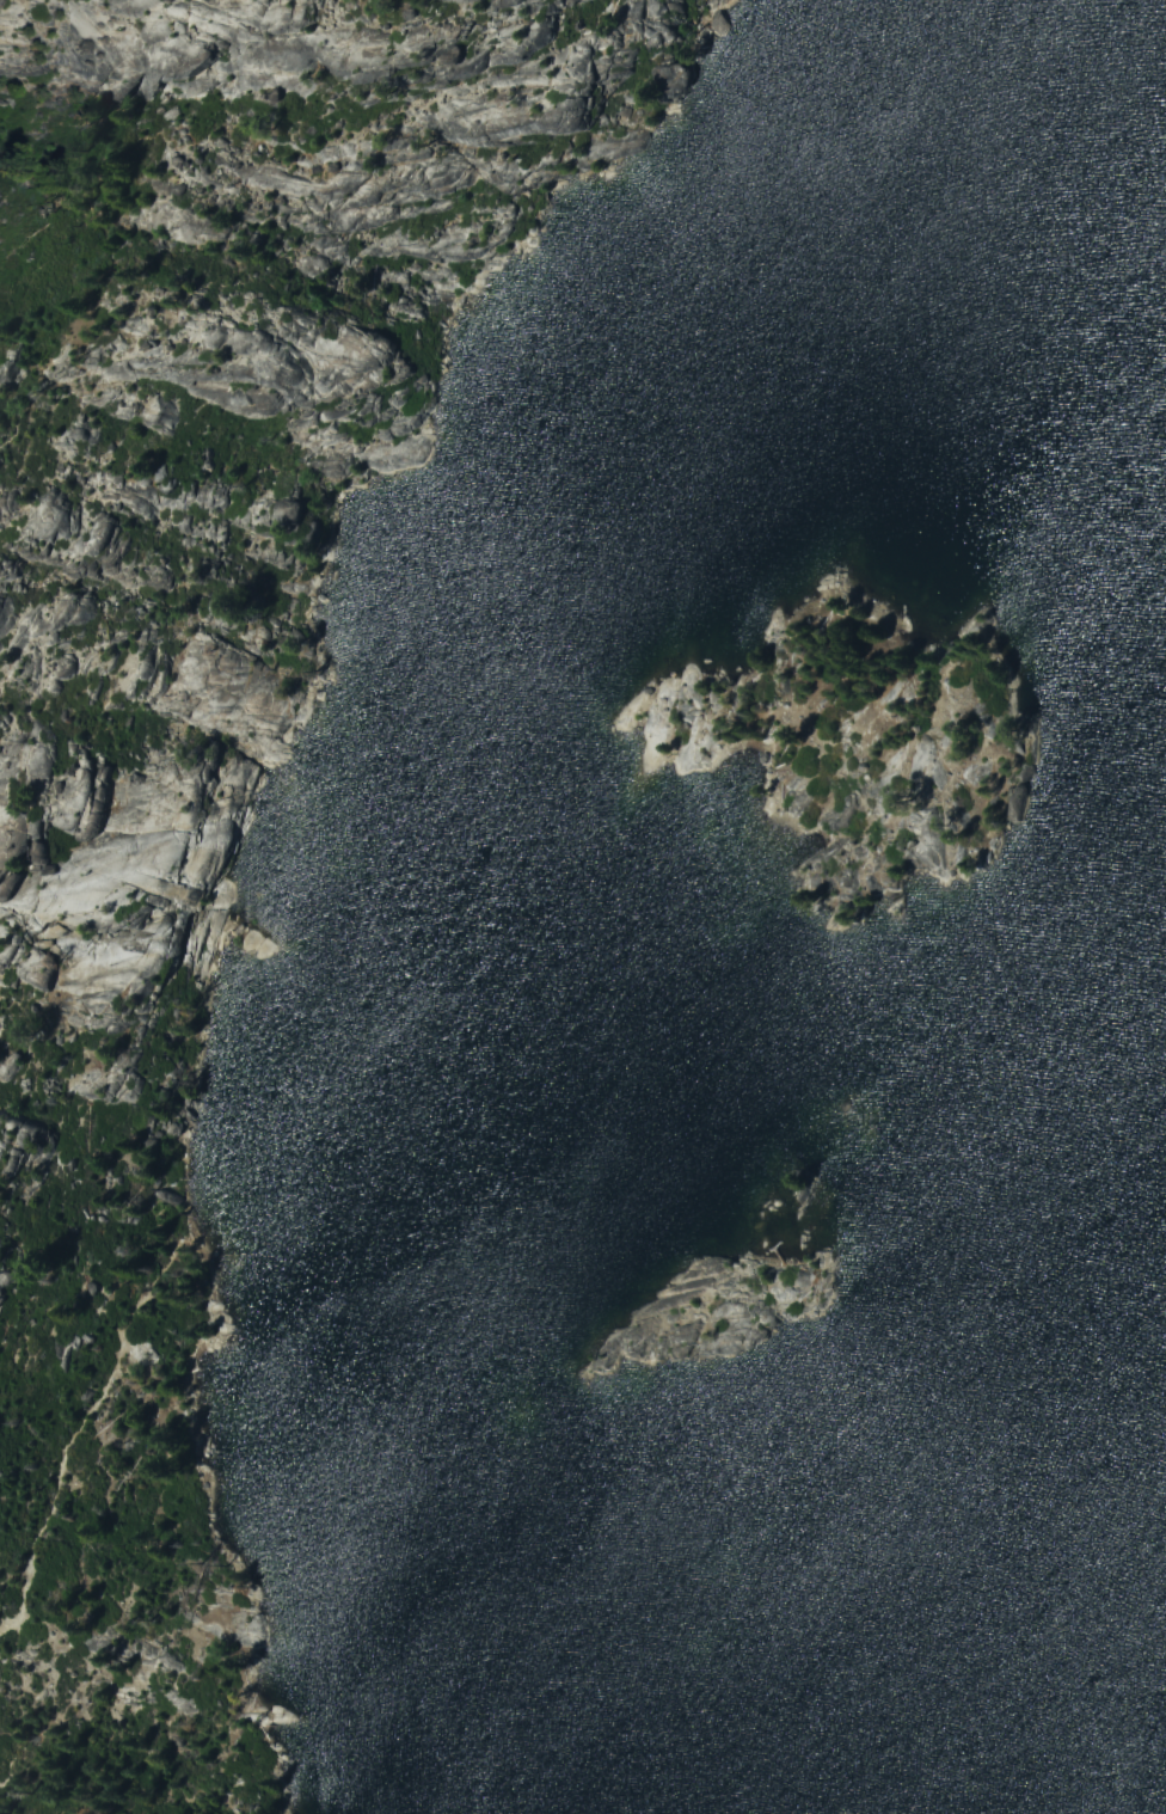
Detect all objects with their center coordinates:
road: (67, 1464)
road: (6, 1800)

